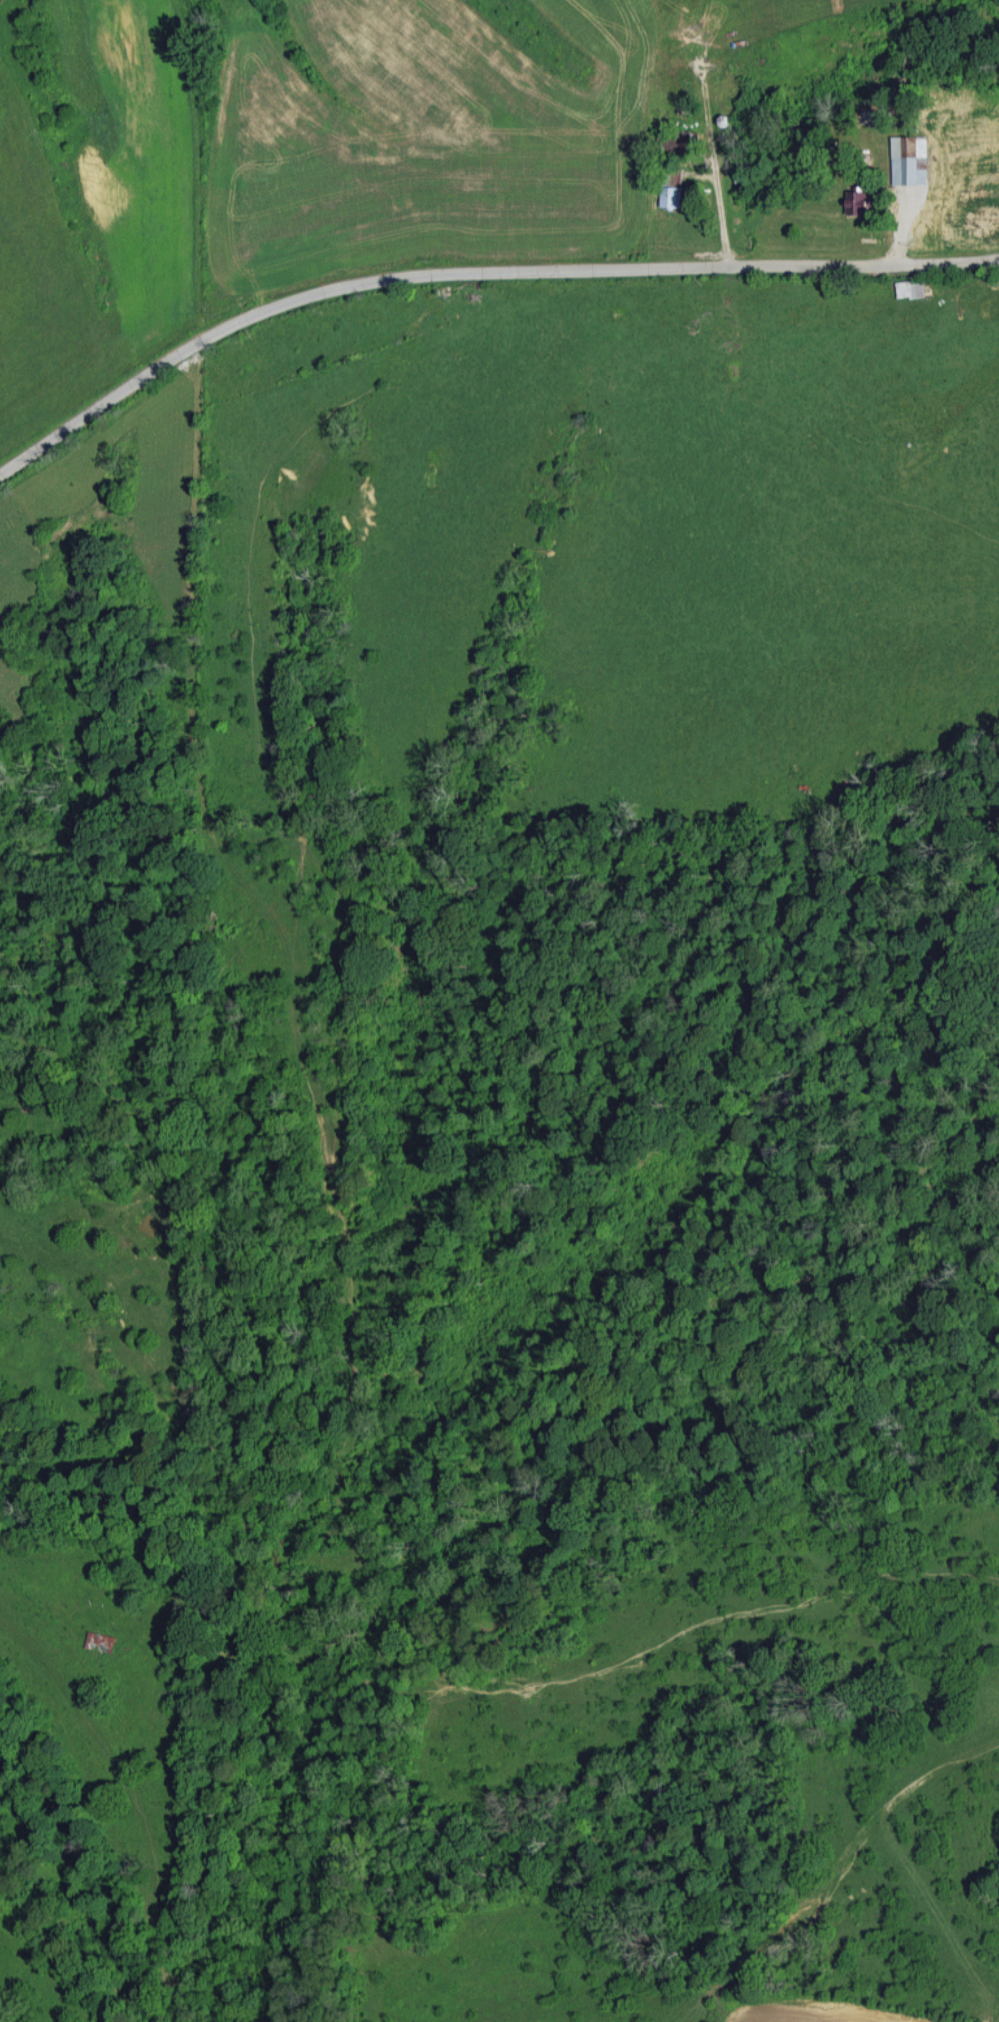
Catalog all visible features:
building: (907, 161)
building: (671, 195)
building: (857, 201)
road: (474, 269)

